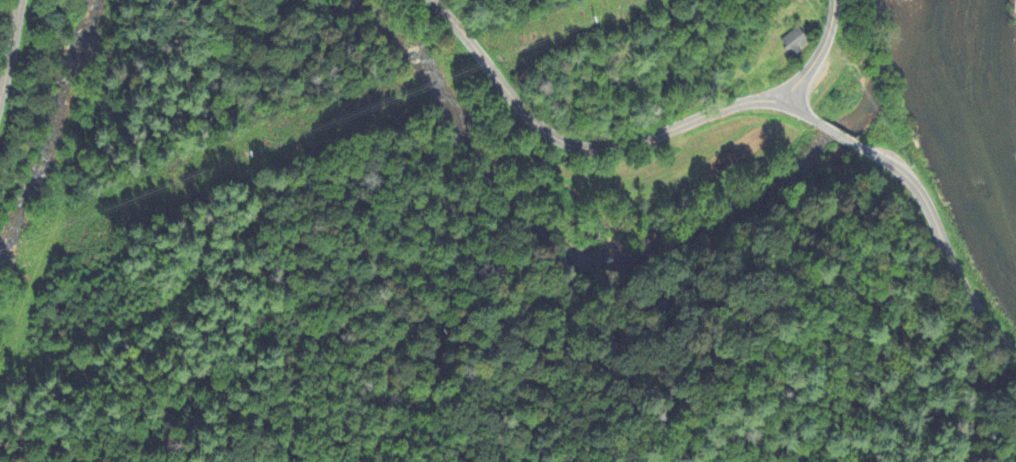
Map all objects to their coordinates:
building: (795, 41)
road: (11, 48)
road: (817, 54)
river: (960, 105)
road: (802, 113)
road: (838, 135)
road: (580, 146)
road: (941, 246)

